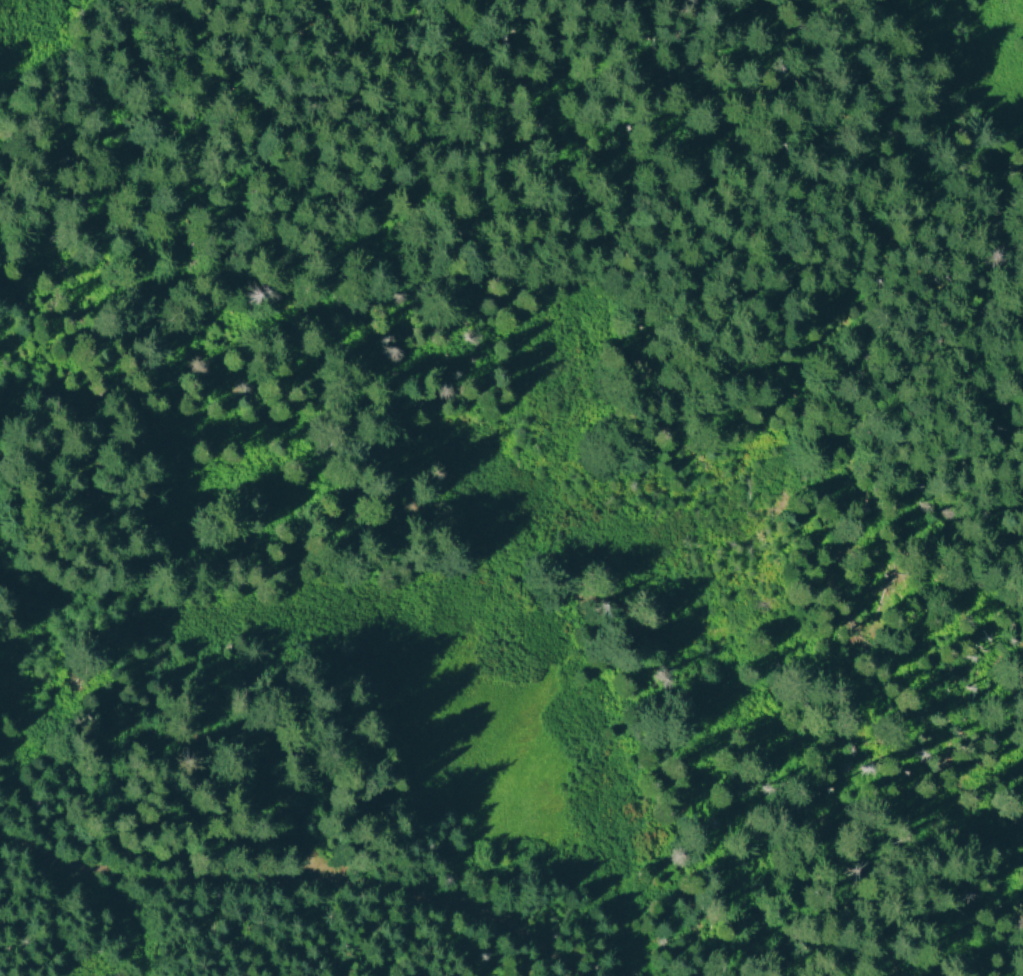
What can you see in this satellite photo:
road: (299, 879)
road: (122, 904)

